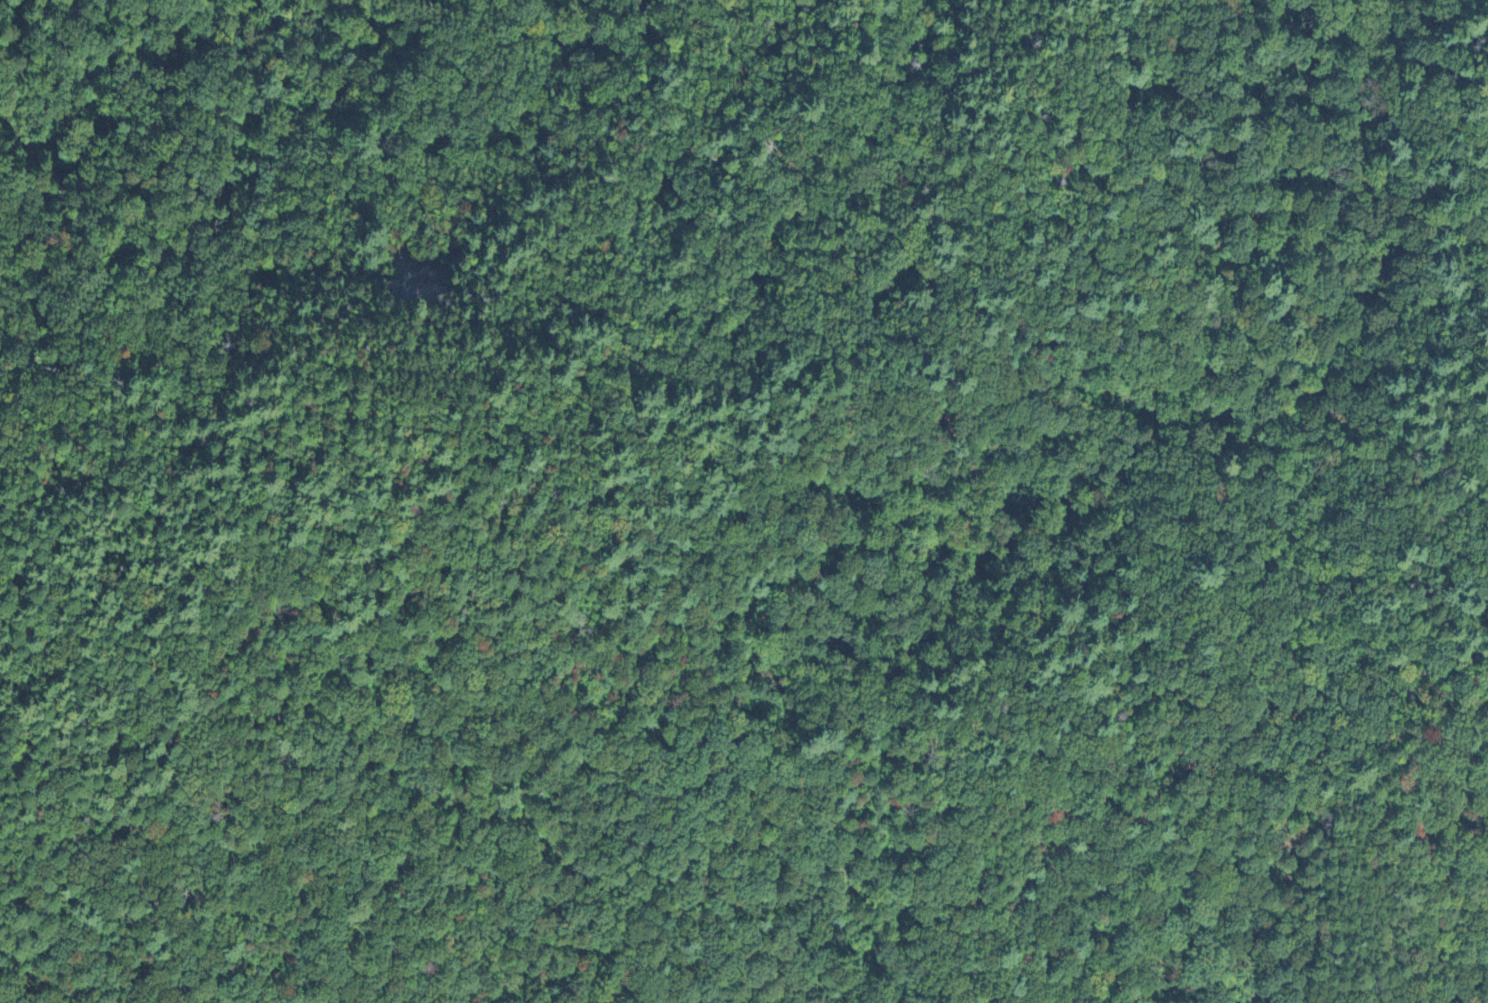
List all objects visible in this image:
road: (1452, 235)
road: (1311, 512)
road: (1379, 562)

